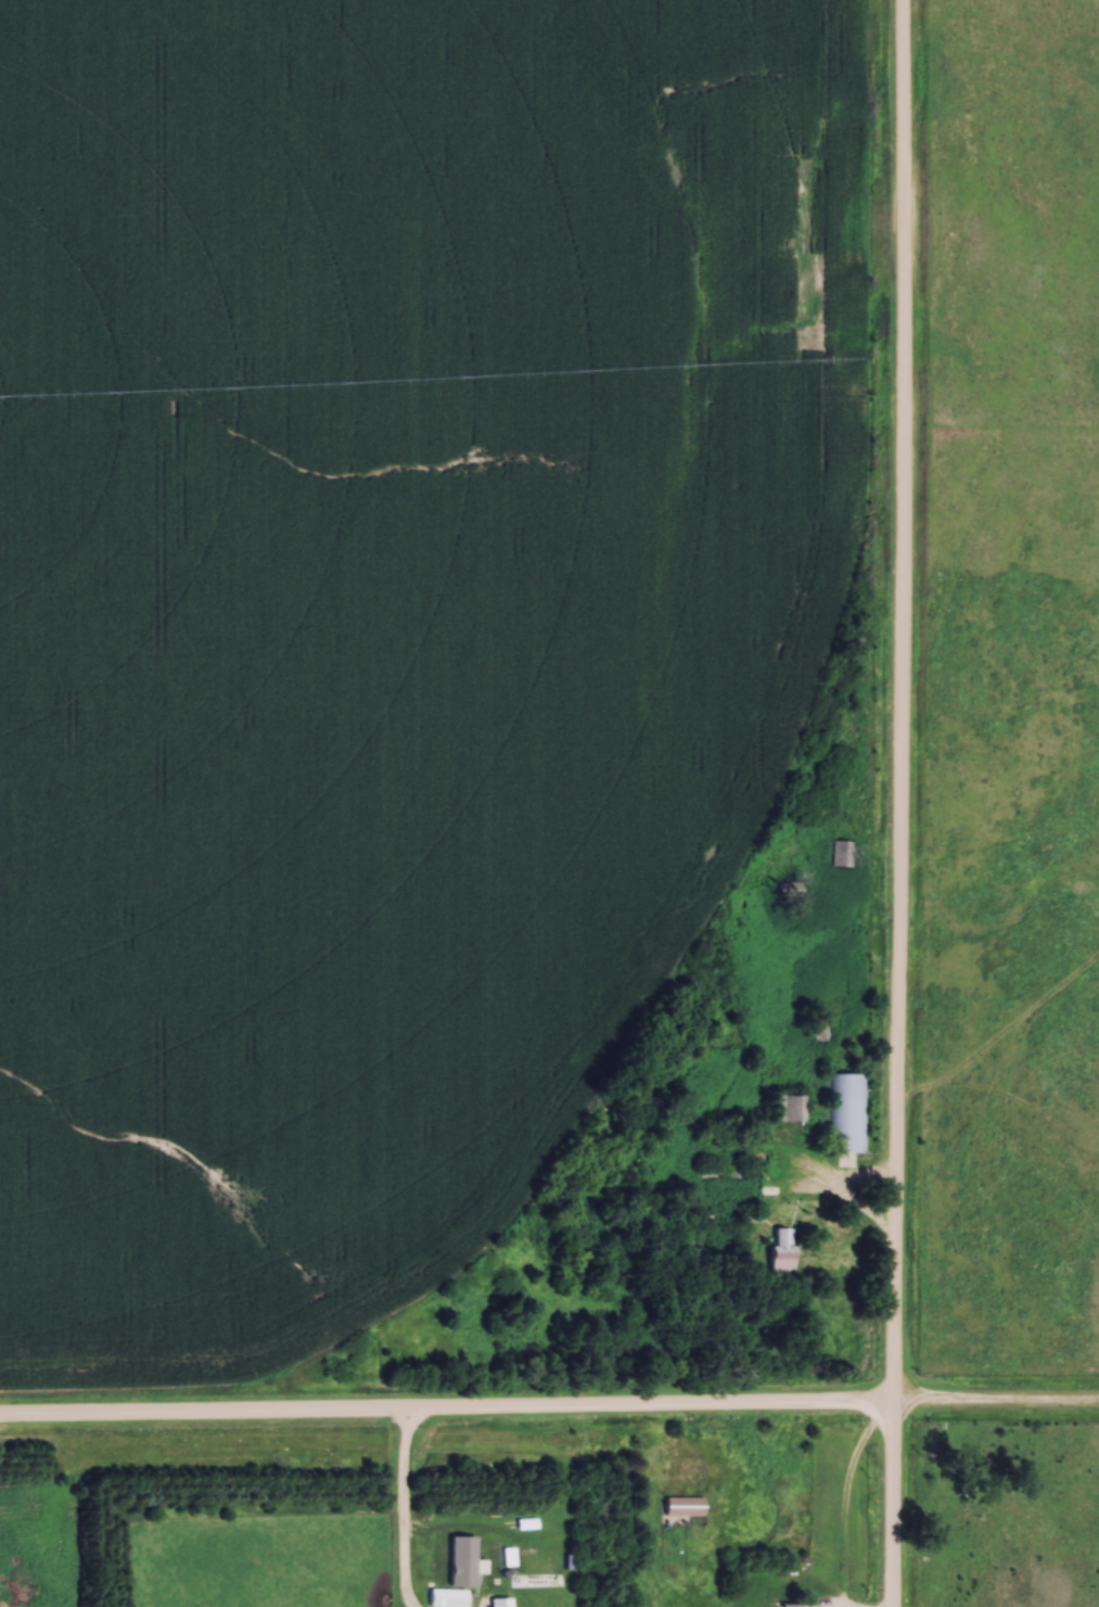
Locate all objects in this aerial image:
road: (899, 803)
building: (823, 1026)
building: (790, 1109)
building: (851, 1118)
building: (781, 1252)
road: (549, 1413)
building: (683, 1507)
road: (401, 1513)
building: (446, 1596)
building: (499, 1602)
building: (791, 1606)

